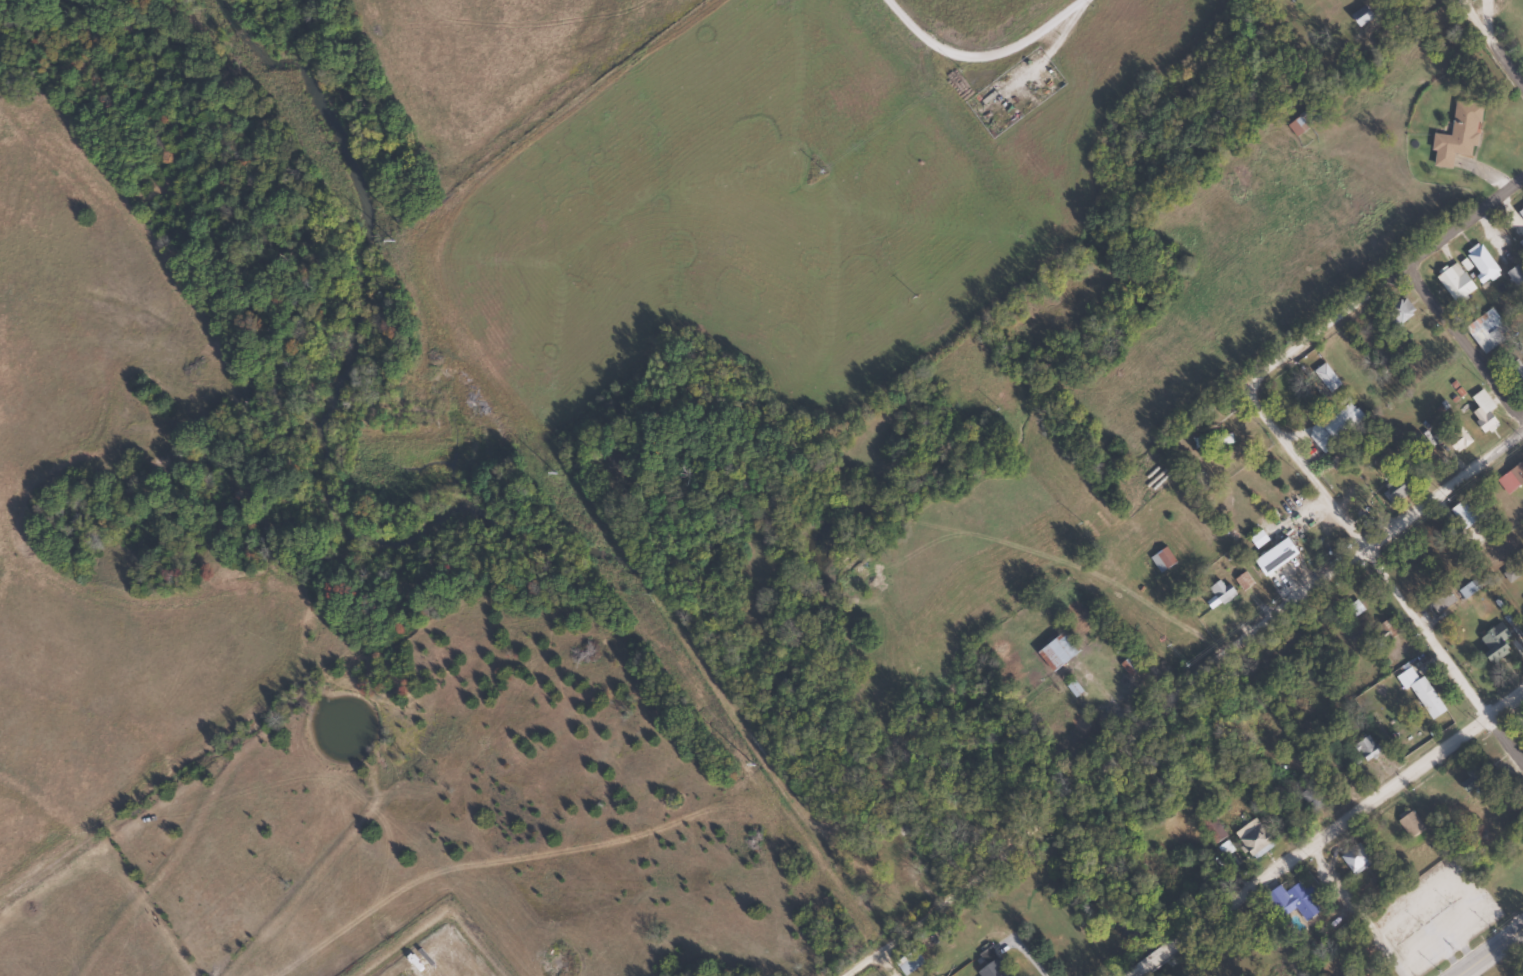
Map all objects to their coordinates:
building: (1357, 17)
building: (1343, 28)
road: (1492, 41)
building: (1296, 125)
building: (1452, 140)
building: (1480, 264)
building: (1513, 276)
building: (1454, 282)
road: (1381, 289)
building: (1398, 313)
building: (1483, 333)
road: (1466, 340)
building: (1481, 411)
building: (1337, 420)
building: (1456, 439)
building: (1511, 477)
building: (1395, 490)
building: (1462, 514)
building: (1272, 557)
building: (1160, 559)
river: (626, 561)
road: (1381, 583)
building: (1218, 593)
building: (1439, 600)
road: (1297, 609)
building: (1387, 628)
building: (1491, 642)
building: (1057, 650)
building: (1419, 693)
building: (1365, 749)
building: (1478, 779)
building: (1308, 796)
road: (1373, 803)
road: (1038, 819)
building: (1408, 823)
building: (906, 839)
building: (1253, 842)
building: (1355, 861)
building: (1507, 887)
building: (1289, 902)
road: (924, 914)
road: (1358, 914)
building: (1450, 918)
road: (1180, 944)
road: (1490, 951)
road: (1030, 959)
road: (885, 965)
building: (989, 967)

